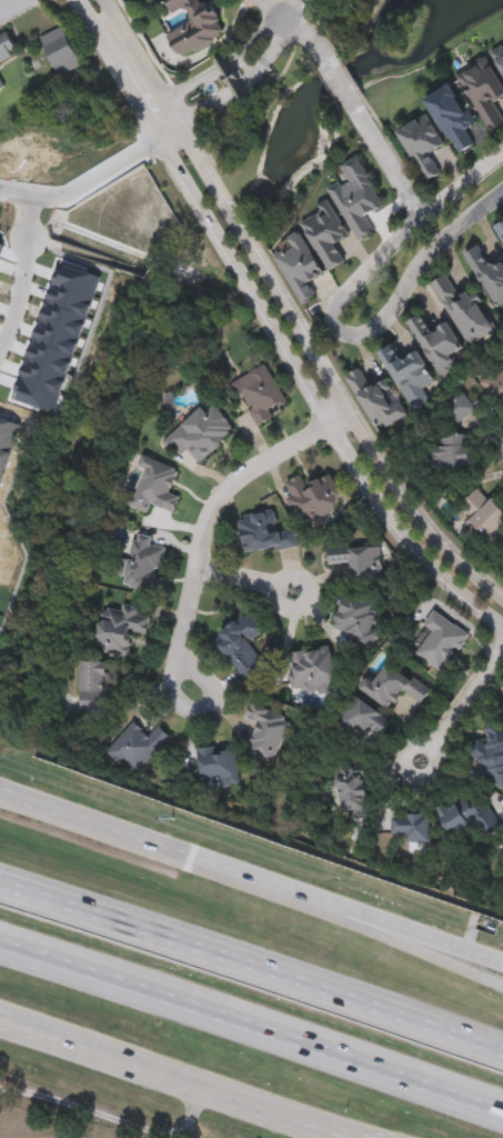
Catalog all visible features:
road: (1, 0)
building: (6, 47)
building: (60, 51)
building: (500, 51)
road: (235, 62)
building: (1, 84)
building: (485, 92)
road: (358, 96)
building: (454, 118)
building: (424, 147)
road: (97, 176)
building: (359, 199)
building: (328, 236)
building: (300, 267)
road: (23, 276)
building: (489, 276)
road: (291, 307)
building: (466, 311)
road: (338, 313)
road: (275, 325)
building: (439, 346)
building: (410, 376)
building: (494, 386)
building: (261, 395)
building: (378, 400)
building: (461, 408)
building: (202, 435)
building: (451, 455)
building: (157, 487)
building: (315, 498)
building: (483, 513)
building: (266, 533)
road: (200, 557)
building: (360, 560)
building: (145, 565)
road: (241, 576)
building: (358, 620)
building: (123, 630)
building: (443, 642)
building: (243, 645)
building: (314, 669)
building: (94, 687)
building: (394, 687)
road: (465, 706)
building: (502, 712)
building: (363, 719)
building: (266, 732)
building: (140, 748)
building: (491, 758)
building: (219, 767)
building: (353, 789)
building: (469, 813)
building: (412, 829)
road: (214, 871)
road: (465, 960)
road: (466, 965)
road: (252, 972)
road: (251, 1038)
road: (151, 1087)
road: (295, 1132)

